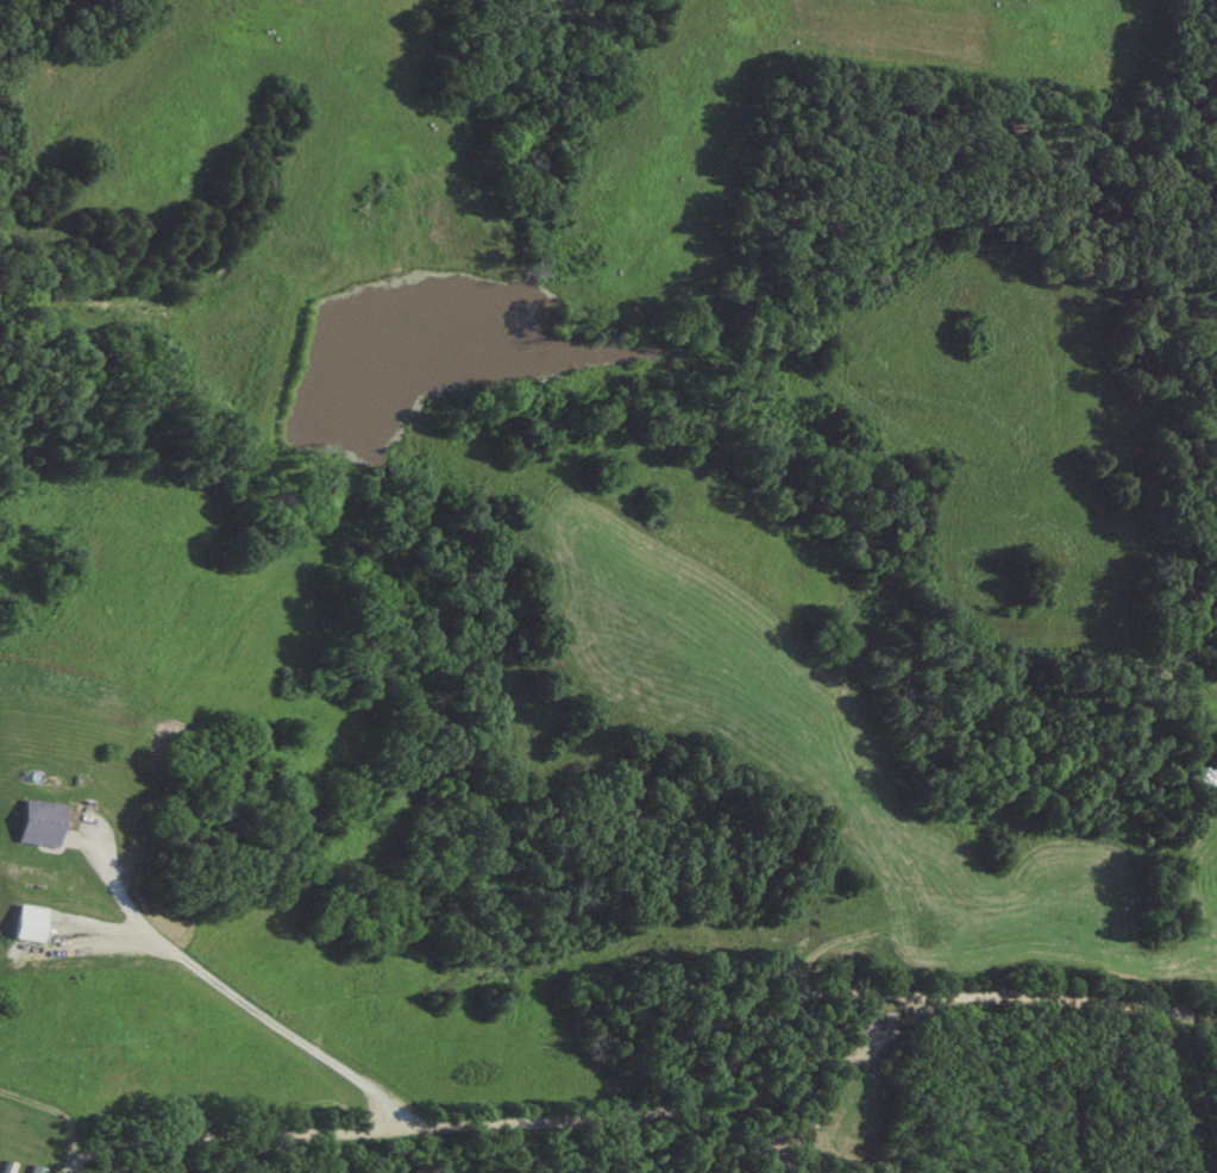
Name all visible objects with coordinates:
building: (43, 823)
building: (33, 923)
road: (250, 1009)
road: (657, 1111)
building: (38, 1169)

